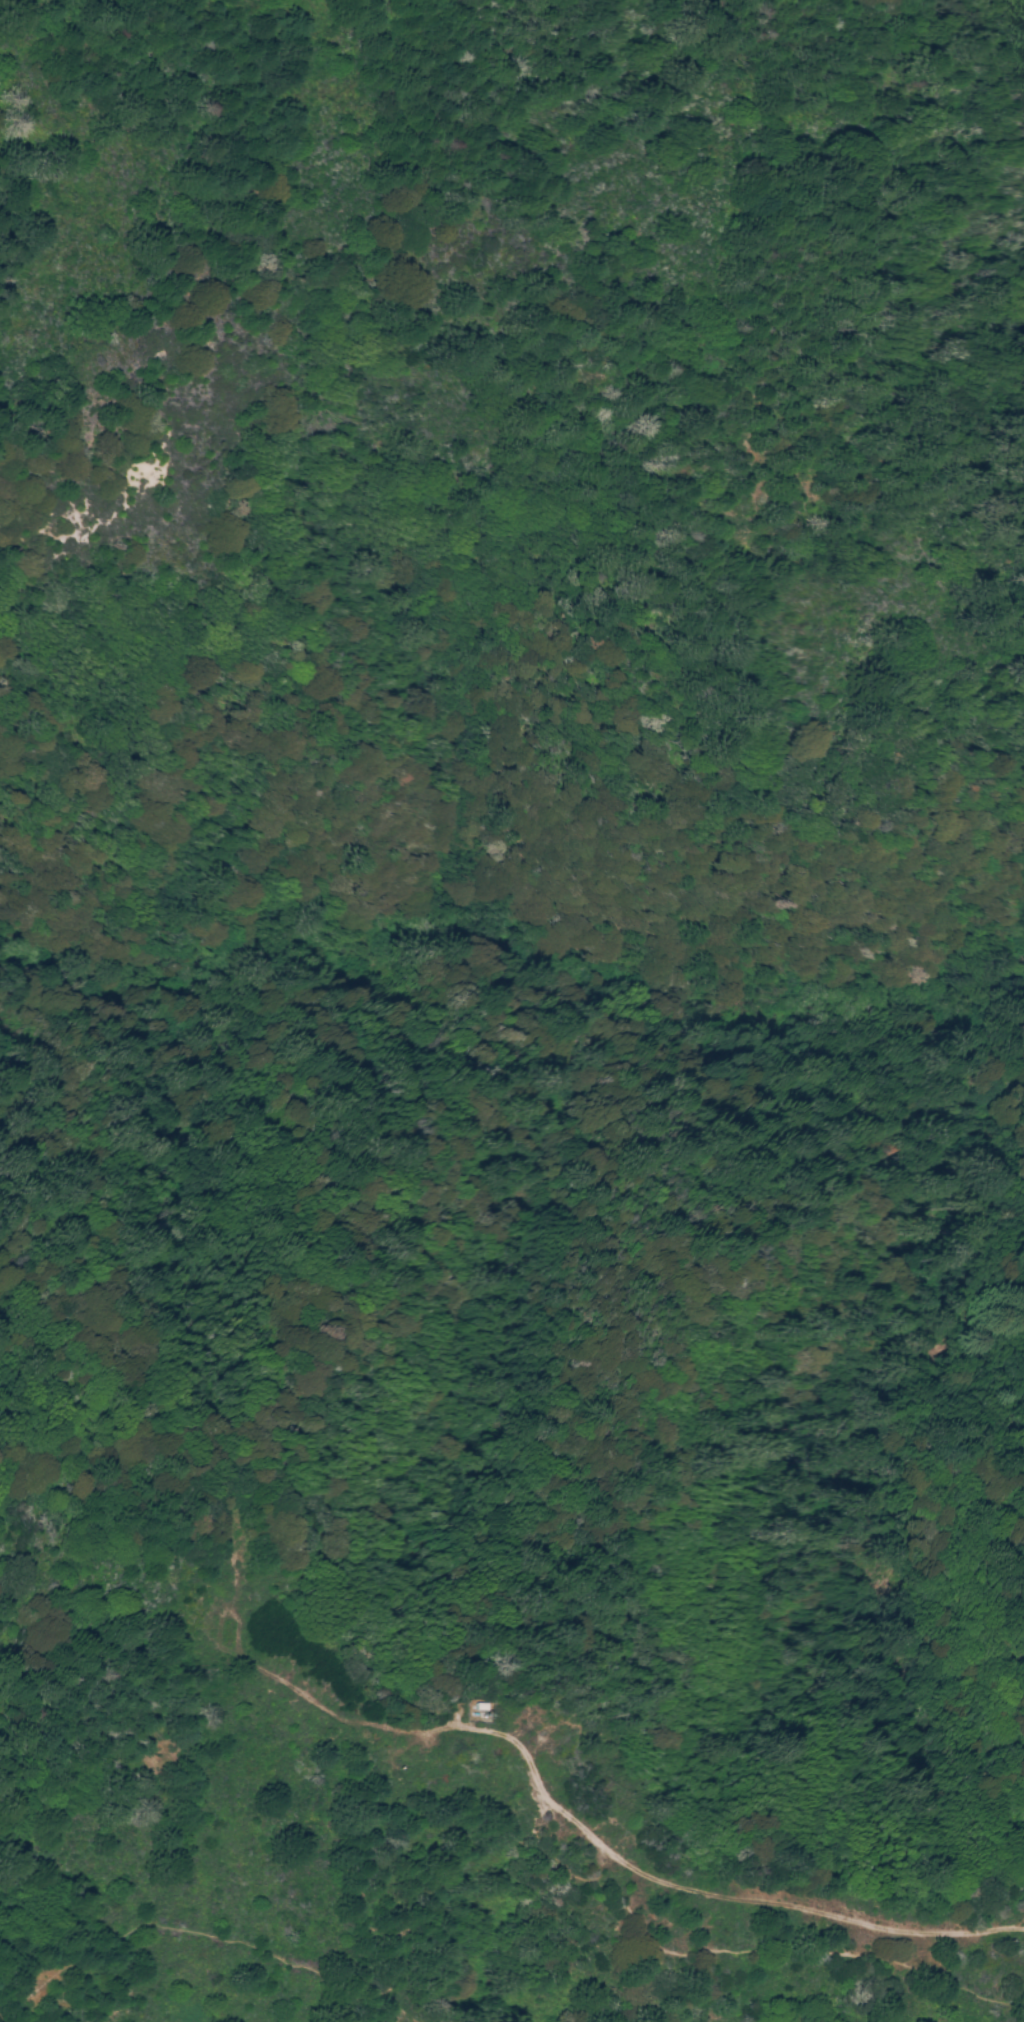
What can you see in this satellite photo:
road: (439, 1889)
crop: (1015, 1896)

